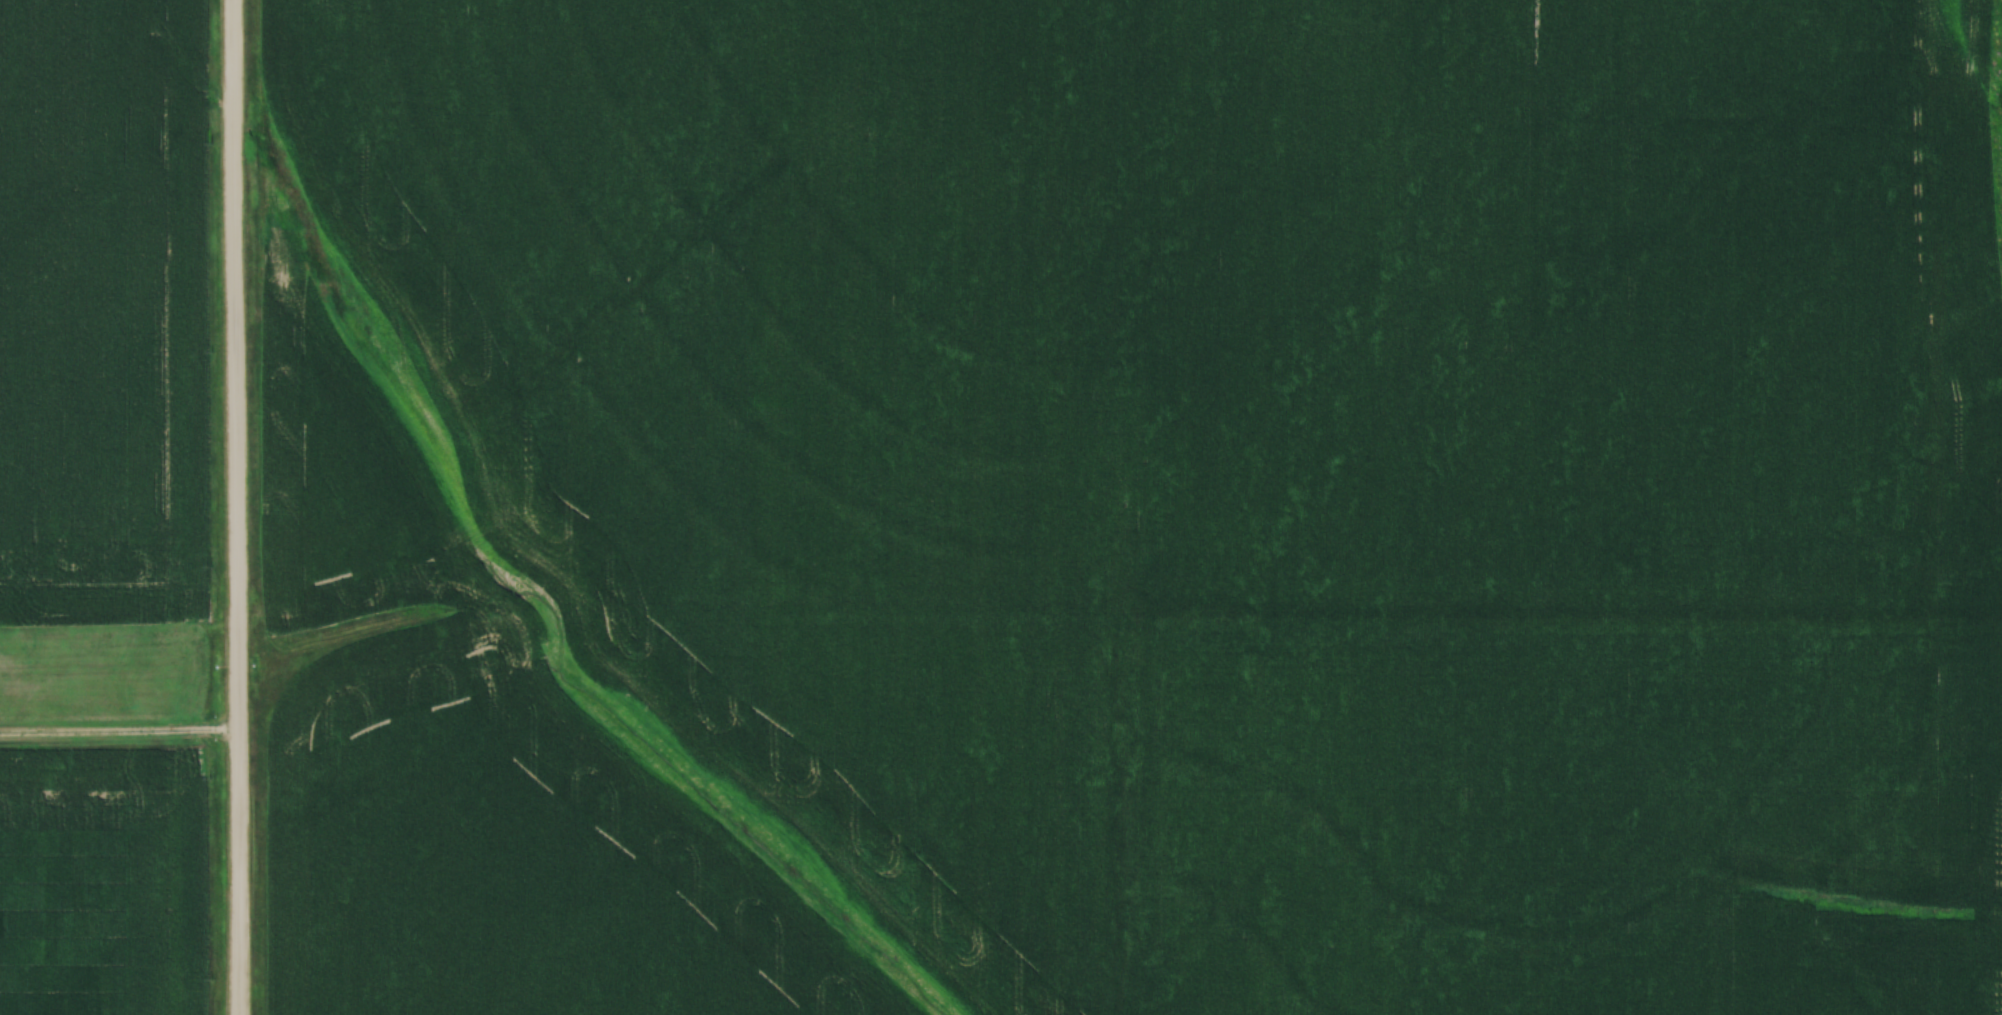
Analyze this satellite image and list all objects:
road: (236, 507)
road: (119, 737)

